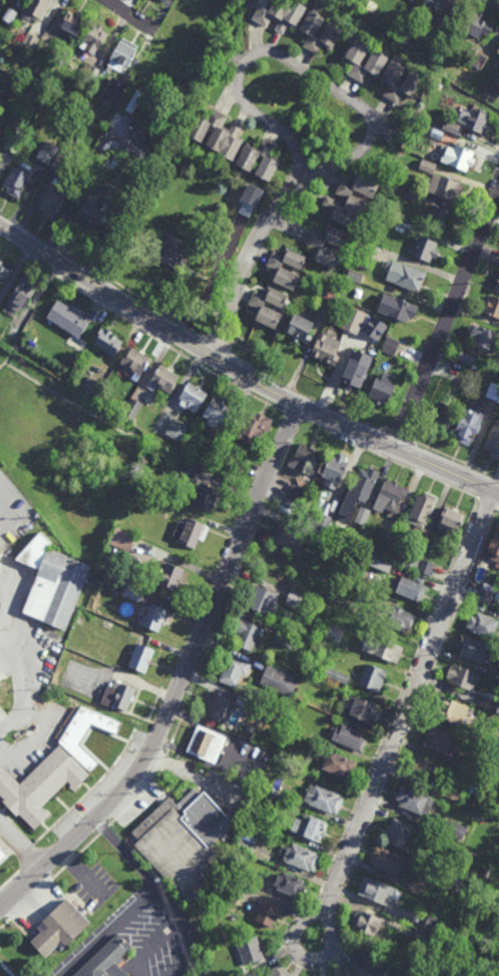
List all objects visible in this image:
building: (165, 0)
building: (412, 0)
road: (496, 1)
building: (20, 2)
building: (36, 8)
building: (441, 9)
building: (280, 12)
building: (11, 15)
road: (130, 16)
building: (72, 22)
building: (478, 24)
building: (333, 32)
building: (93, 38)
building: (31, 41)
building: (498, 51)
road: (273, 52)
building: (124, 53)
building: (497, 58)
building: (478, 60)
building: (376, 61)
building: (90, 71)
building: (28, 74)
building: (412, 83)
building: (115, 91)
building: (492, 91)
building: (135, 101)
building: (477, 120)
building: (448, 123)
building: (433, 132)
building: (219, 133)
building: (134, 140)
building: (16, 141)
building: (0, 151)
building: (49, 152)
building: (459, 158)
building: (247, 160)
building: (62, 162)
building: (147, 164)
building: (19, 179)
building: (441, 183)
building: (254, 194)
building: (410, 194)
road: (75, 196)
building: (55, 199)
building: (351, 200)
building: (101, 203)
building: (378, 214)
building: (437, 218)
building: (320, 247)
building: (179, 249)
building: (428, 250)
building: (365, 252)
road: (251, 258)
building: (356, 260)
building: (282, 270)
building: (5, 272)
building: (355, 276)
building: (409, 277)
road: (120, 285)
building: (497, 286)
building: (23, 296)
building: (328, 296)
building: (261, 307)
building: (492, 307)
building: (401, 310)
road: (448, 316)
building: (69, 319)
building: (354, 320)
building: (374, 328)
building: (301, 330)
road: (154, 339)
building: (484, 340)
building: (110, 342)
building: (390, 346)
building: (327, 351)
building: (136, 365)
building: (356, 369)
road: (241, 373)
building: (164, 380)
building: (466, 384)
building: (92, 387)
building: (380, 390)
building: (493, 391)
building: (193, 397)
building: (133, 411)
building: (216, 414)
building: (441, 415)
road: (295, 417)
building: (469, 421)
building: (254, 427)
building: (177, 430)
building: (493, 440)
building: (175, 445)
building: (304, 457)
road: (456, 458)
road: (392, 462)
building: (239, 464)
building: (333, 469)
building: (191, 471)
building: (364, 482)
building: (297, 492)
building: (392, 494)
building: (208, 496)
road: (489, 503)
building: (422, 508)
building: (362, 515)
building: (320, 518)
building: (450, 518)
building: (190, 528)
building: (289, 535)
building: (390, 535)
building: (123, 538)
building: (323, 538)
road: (5, 546)
building: (493, 547)
building: (346, 548)
building: (0, 552)
building: (0, 556)
building: (412, 560)
building: (383, 565)
building: (425, 566)
building: (170, 575)
building: (53, 581)
building: (408, 588)
building: (133, 590)
building: (486, 593)
building: (371, 594)
building: (497, 594)
building: (262, 599)
building: (293, 599)
building: (396, 616)
building: (155, 617)
building: (81, 620)
building: (482, 624)
road: (24, 625)
building: (333, 632)
building: (248, 633)
building: (288, 639)
building: (382, 647)
building: (475, 649)
building: (142, 657)
road: (17, 666)
building: (235, 670)
building: (495, 673)
building: (337, 676)
building: (462, 676)
building: (373, 677)
building: (0, 679)
road: (184, 679)
building: (280, 681)
building: (118, 695)
building: (488, 703)
road: (407, 705)
building: (220, 706)
road: (23, 707)
building: (360, 708)
building: (259, 709)
building: (452, 710)
building: (273, 715)
building: (1, 716)
building: (484, 735)
building: (348, 736)
building: (72, 738)
building: (441, 740)
building: (207, 744)
building: (281, 756)
building: (335, 762)
building: (471, 766)
building: (426, 768)
building: (40, 785)
building: (454, 793)
building: (323, 799)
building: (416, 802)
building: (311, 827)
building: (455, 829)
building: (399, 833)
building: (184, 840)
building: (245, 846)
road: (20, 848)
building: (2, 856)
building: (300, 857)
building: (388, 860)
building: (484, 881)
building: (455, 882)
building: (290, 884)
building: (418, 886)
building: (228, 892)
building: (378, 892)
road: (140, 899)
building: (264, 912)
building: (404, 916)
road: (298, 924)
building: (369, 925)
building: (431, 925)
building: (60, 928)
road: (197, 929)
building: (420, 937)
building: (250, 950)
building: (370, 958)
building: (107, 959)
building: (278, 971)
building: (487, 973)
building: (496, 973)
building: (241, 975)

